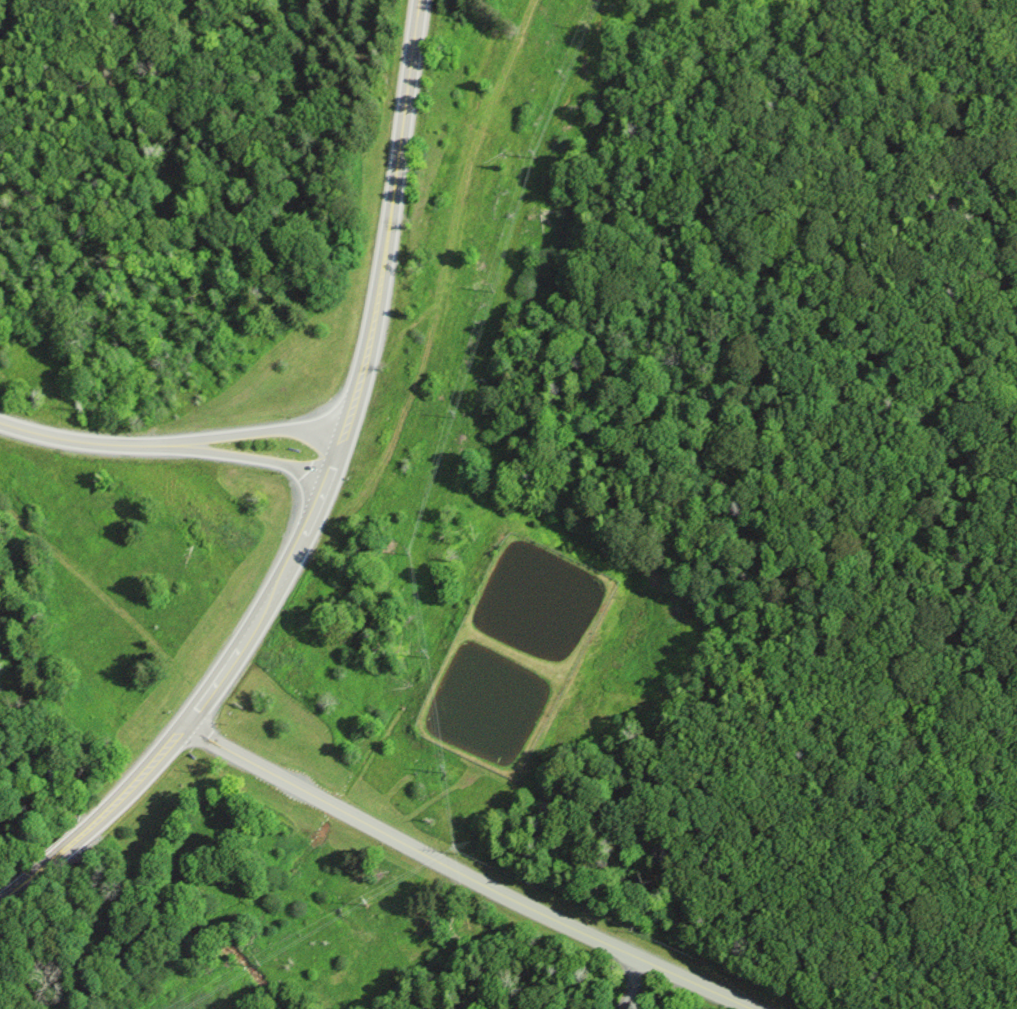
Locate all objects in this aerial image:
road: (389, 215)
road: (267, 430)
road: (94, 442)
road: (259, 458)
road: (208, 689)
road: (464, 874)
road: (633, 985)

